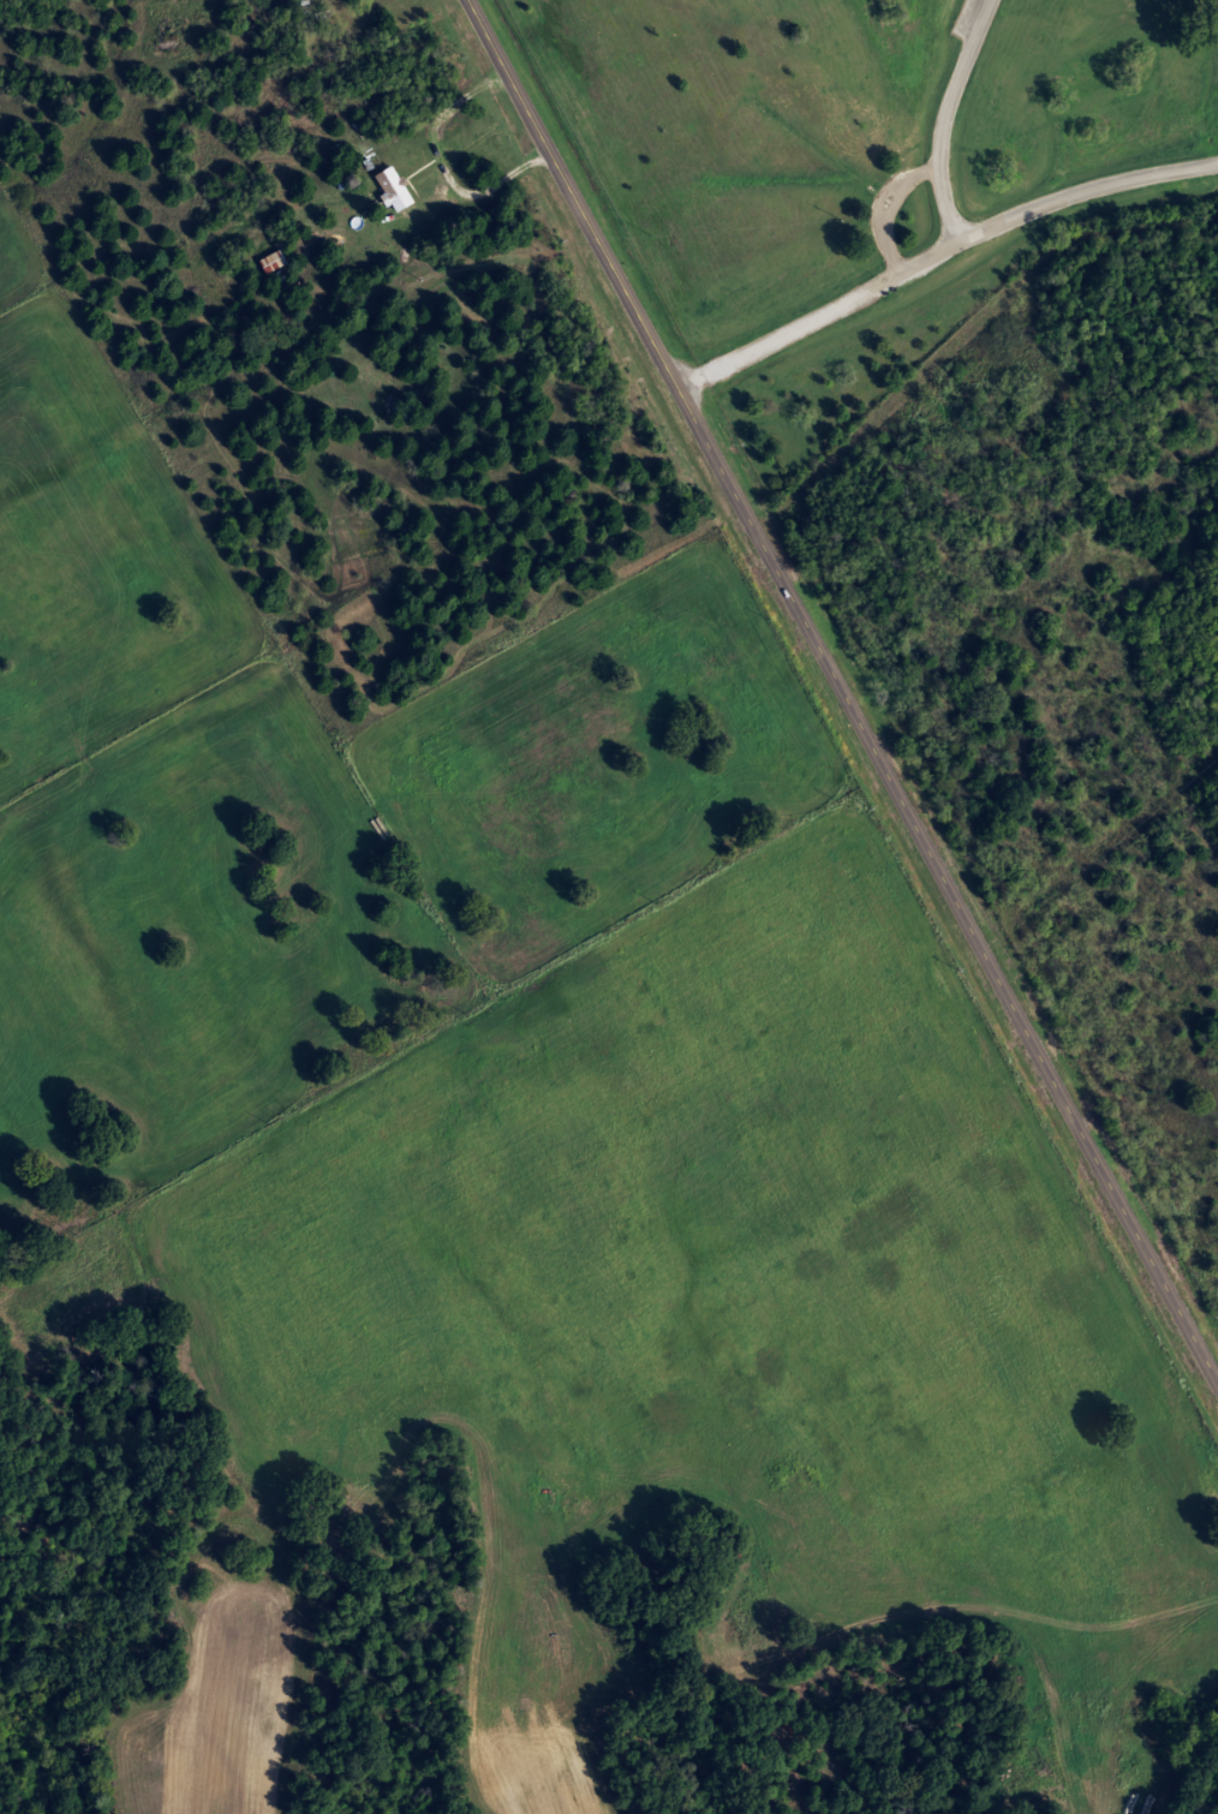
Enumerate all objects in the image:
road: (942, 120)
building: (394, 189)
road: (883, 209)
road: (937, 255)
building: (273, 263)
road: (840, 693)

